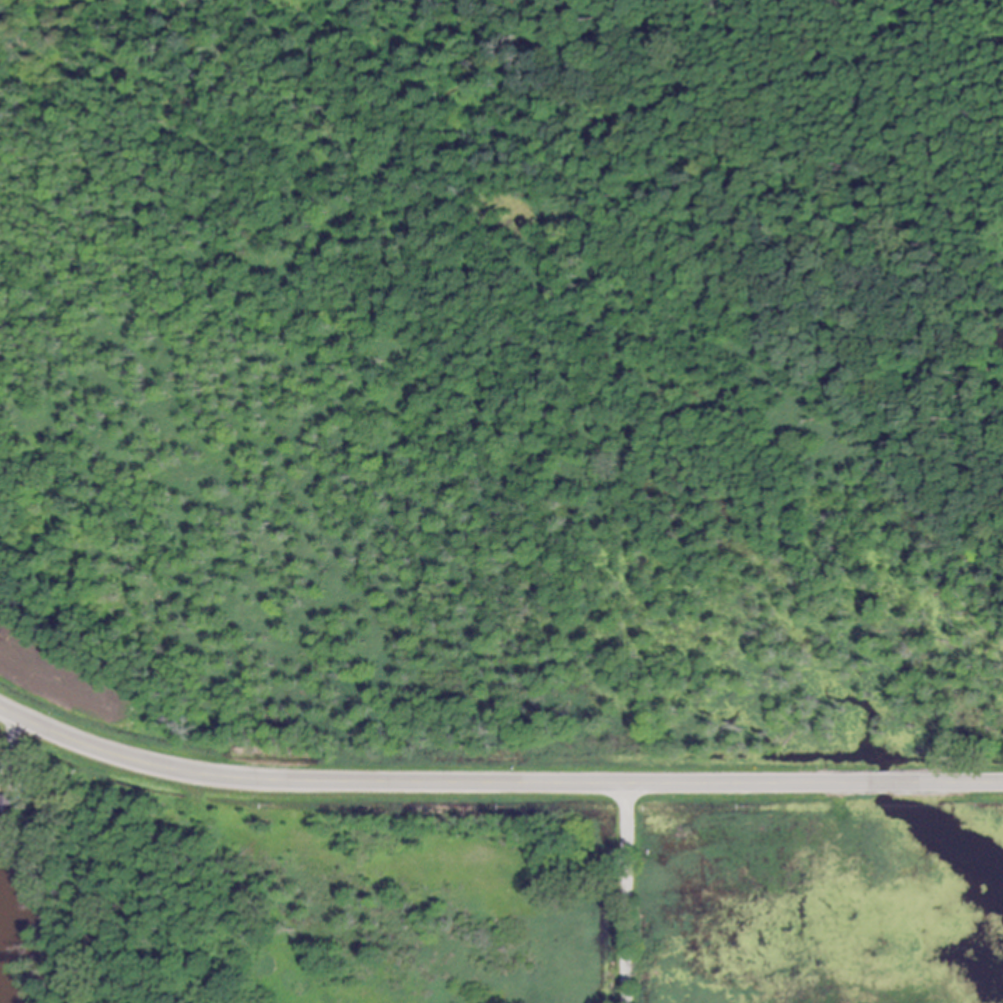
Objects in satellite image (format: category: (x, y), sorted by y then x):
road: (11, 747)
road: (495, 780)
building: (6, 809)
road: (626, 892)

